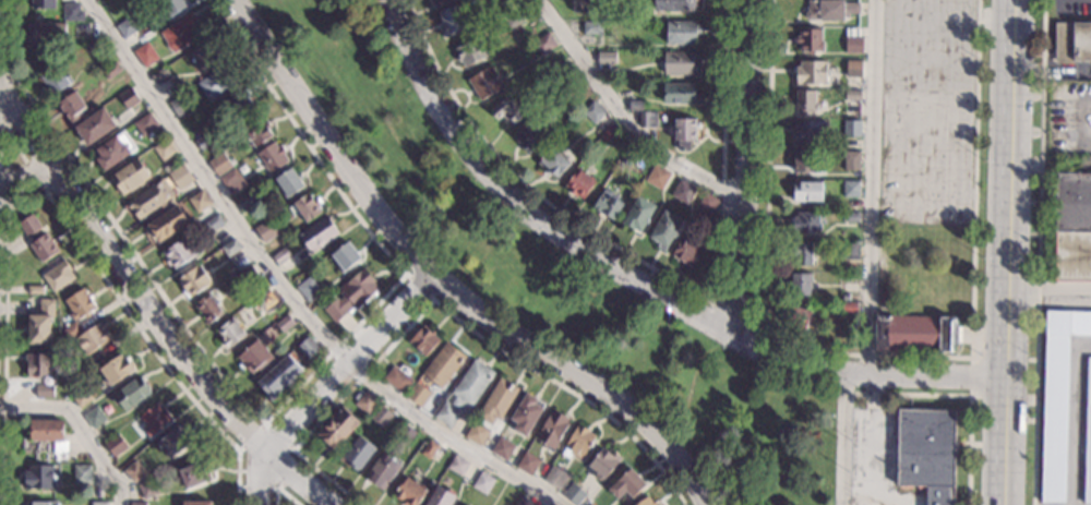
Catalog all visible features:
building: (437, 1)
building: (44, 4)
building: (673, 5)
building: (171, 7)
building: (583, 7)
building: (829, 10)
building: (72, 13)
building: (451, 21)
building: (513, 21)
building: (128, 27)
building: (590, 28)
building: (81, 29)
building: (45, 33)
building: (681, 33)
building: (180, 34)
building: (808, 41)
building: (1071, 41)
building: (543, 44)
building: (93, 45)
building: (852, 45)
building: (468, 52)
building: (144, 55)
building: (203, 56)
building: (606, 58)
building: (559, 64)
building: (678, 64)
building: (852, 69)
building: (110, 71)
building: (810, 73)
building: (159, 76)
building: (55, 82)
building: (483, 82)
building: (216, 83)
building: (679, 94)
building: (851, 95)
building: (584, 96)
building: (128, 99)
road: (10, 100)
building: (803, 101)
building: (239, 104)
building: (180, 105)
building: (634, 106)
building: (70, 107)
building: (506, 111)
parking lot: (926, 111)
building: (591, 112)
road: (622, 118)
parking lot: (1068, 118)
road: (1078, 119)
building: (645, 120)
building: (145, 125)
building: (95, 127)
building: (850, 129)
building: (256, 131)
building: (683, 132)
building: (804, 132)
building: (607, 133)
building: (525, 140)
building: (204, 141)
road: (8, 147)
building: (163, 149)
road: (16, 151)
building: (113, 152)
building: (272, 157)
building: (626, 157)
building: (849, 160)
building: (552, 163)
building: (803, 163)
building: (219, 164)
road: (745, 169)
road: (25, 172)
building: (657, 176)
building: (178, 177)
building: (129, 178)
road: (36, 180)
building: (231, 181)
building: (289, 183)
building: (578, 183)
building: (850, 190)
road: (8, 191)
building: (681, 191)
building: (806, 193)
building: (148, 200)
building: (199, 202)
building: (244, 203)
building: (705, 204)
building: (606, 205)
road: (520, 206)
building: (305, 207)
road: (56, 211)
building: (637, 215)
building: (849, 218)
building: (213, 223)
building: (804, 223)
building: (166, 225)
building: (1072, 227)
building: (664, 230)
building: (265, 231)
building: (317, 235)
building: (37, 240)
building: (230, 248)
building: (848, 251)
building: (685, 252)
road: (1010, 252)
road: (1038, 252)
building: (801, 254)
building: (178, 255)
road: (871, 255)
building: (345, 256)
building: (281, 257)
road: (655, 269)
park: (554, 272)
building: (247, 276)
building: (58, 277)
road: (129, 280)
building: (194, 281)
road: (439, 284)
building: (799, 285)
road: (418, 287)
building: (308, 289)
building: (34, 290)
road: (285, 290)
road: (1050, 294)
building: (349, 297)
building: (885, 298)
building: (264, 300)
building: (79, 305)
building: (848, 305)
building: (208, 309)
road: (447, 310)
building: (799, 318)
building: (39, 323)
building: (284, 324)
road: (758, 328)
building: (70, 332)
building: (229, 334)
building: (913, 334)
building: (93, 337)
building: (423, 339)
road: (2, 345)
building: (307, 347)
road: (878, 357)
building: (254, 358)
building: (37, 364)
building: (442, 364)
road: (346, 366)
building: (116, 369)
building: (79, 371)
road: (867, 372)
building: (279, 375)
road: (970, 377)
building: (396, 378)
building: (471, 383)
building: (44, 390)
building: (131, 392)
building: (417, 394)
road: (919, 395)
building: (82, 397)
building: (1057, 397)
building: (495, 400)
building: (363, 402)
road: (277, 411)
building: (447, 413)
building: (525, 413)
building: (379, 416)
building: (95, 418)
building: (153, 418)
road: (1076, 419)
road: (81, 425)
building: (46, 429)
building: (551, 429)
building: (336, 430)
building: (403, 433)
building: (476, 433)
road: (875, 438)
building: (1088, 440)
building: (173, 441)
building: (577, 442)
building: (116, 444)
building: (428, 448)
building: (501, 449)
road: (292, 452)
building: (356, 452)
building: (926, 452)
building: (527, 462)
building: (603, 462)
building: (456, 465)
building: (134, 470)
building: (382, 470)
building: (82, 473)
building: (194, 473)
building: (38, 476)
building: (554, 478)
road: (262, 480)
road: (298, 480)
building: (482, 482)
building: (625, 483)
building: (147, 488)
road: (280, 490)
building: (408, 492)
building: (573, 492)
building: (437, 496)
building: (647, 501)
building: (523, 502)
building: (41, 503)
building: (99, 503)
building: (137, 503)
building: (196, 503)
building: (466, 504)
building: (588, 504)

